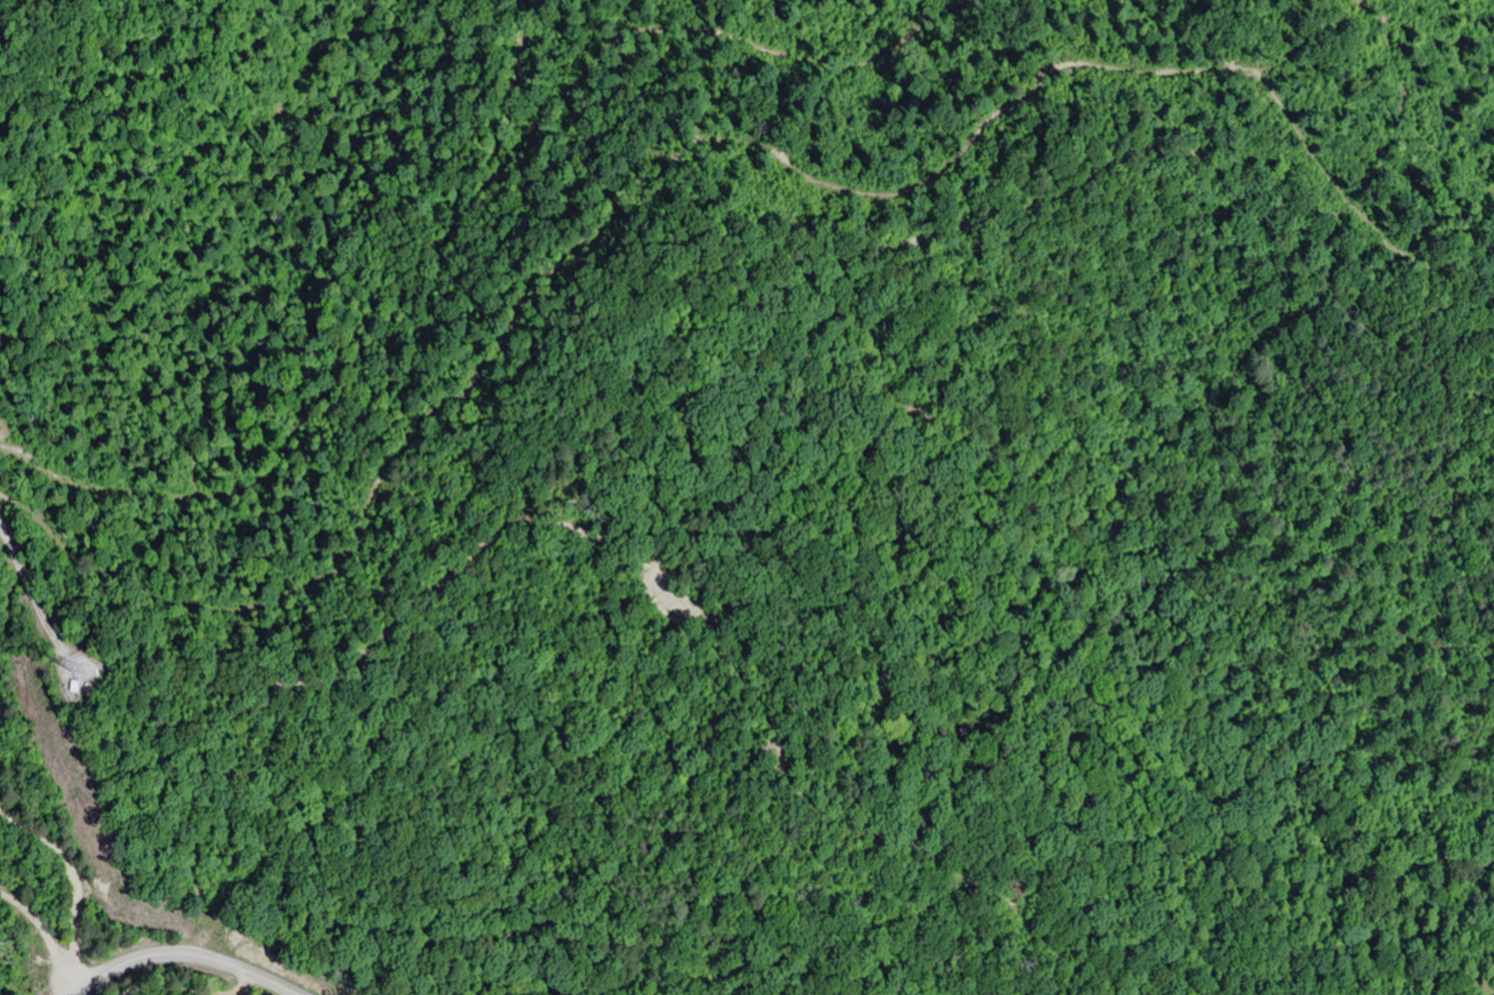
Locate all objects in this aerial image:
road: (191, 955)
road: (139, 977)
road: (278, 989)

